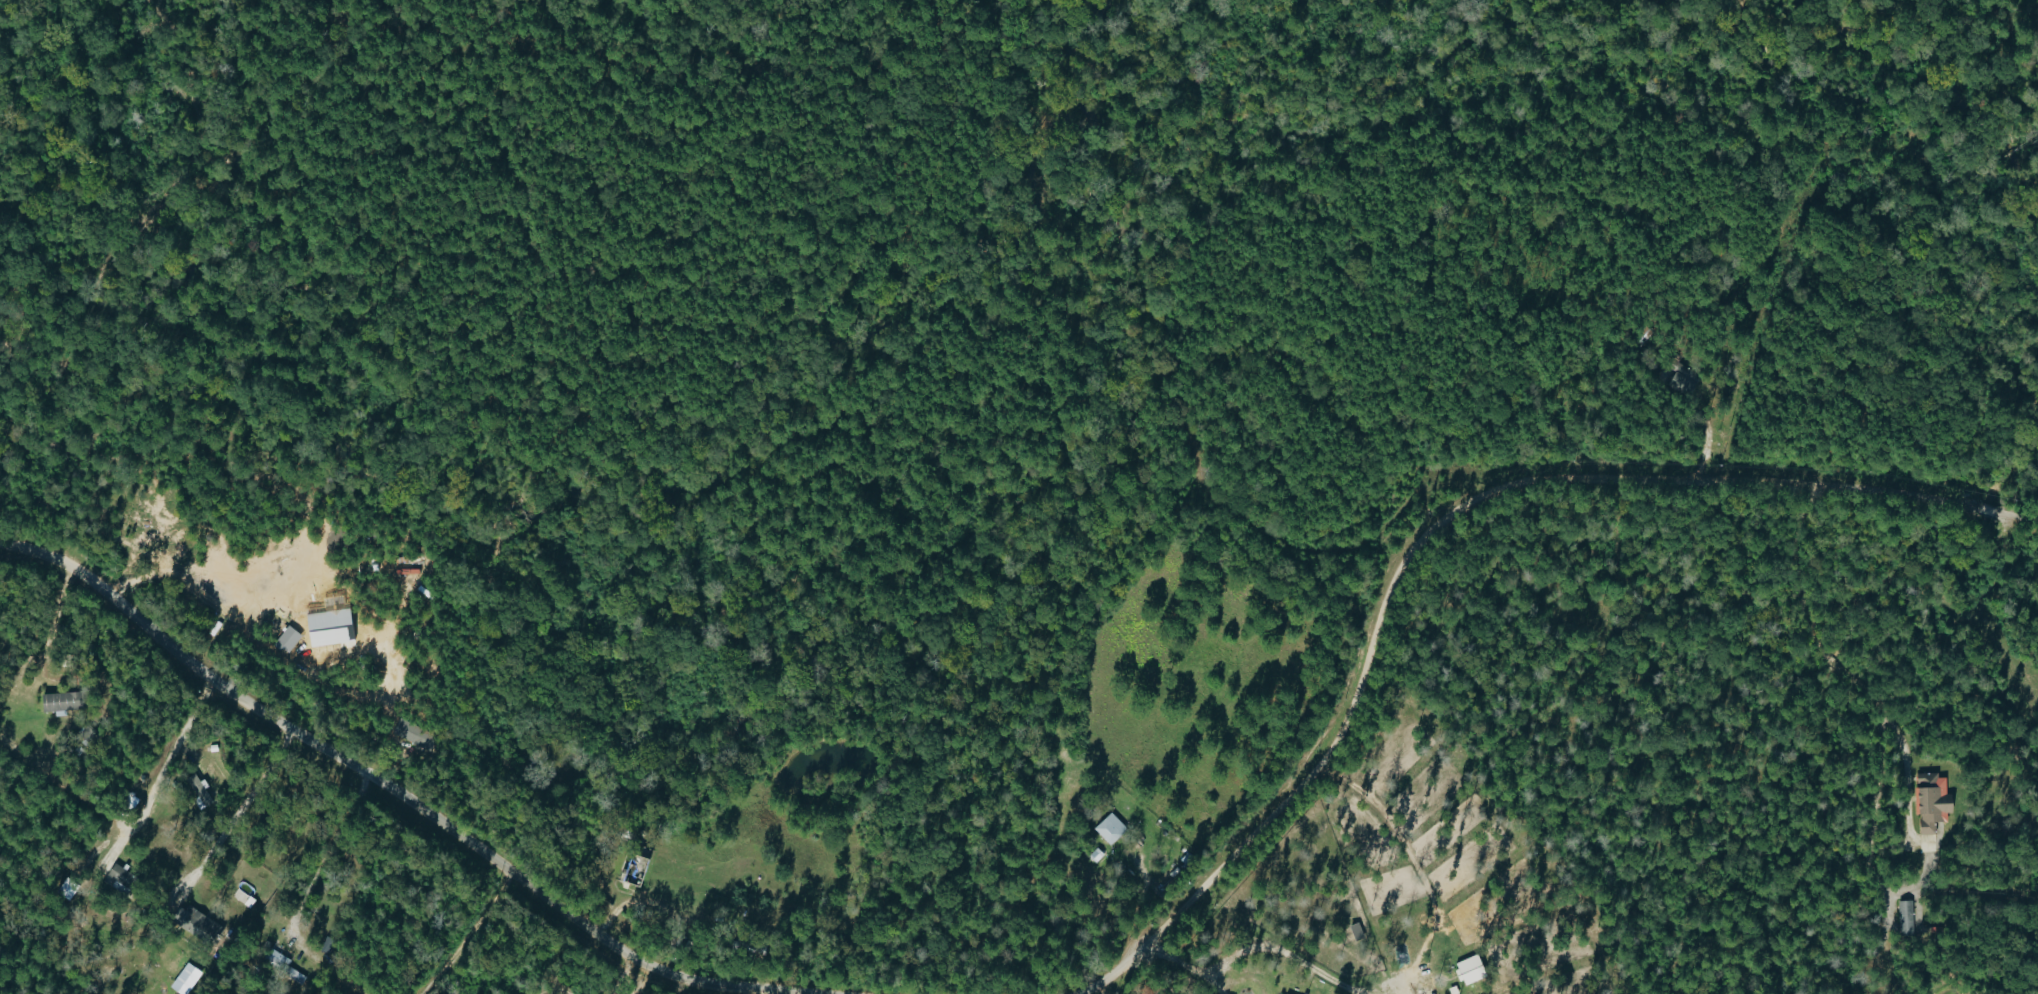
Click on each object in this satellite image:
road: (1443, 522)
building: (408, 576)
road: (188, 580)
road: (53, 620)
building: (291, 639)
building: (66, 701)
building: (415, 734)
road: (161, 773)
road: (1905, 779)
road: (408, 798)
building: (1929, 801)
road: (239, 811)
building: (1108, 829)
road: (326, 853)
road: (1414, 865)
building: (127, 877)
building: (68, 888)
road: (632, 903)
building: (1904, 918)
building: (202, 928)
road: (469, 931)
building: (1355, 932)
road: (1259, 945)
building: (1467, 970)
road: (622, 974)
road: (675, 985)
road: (1104, 988)
road: (746, 989)
road: (1392, 991)
building: (1283, 993)

